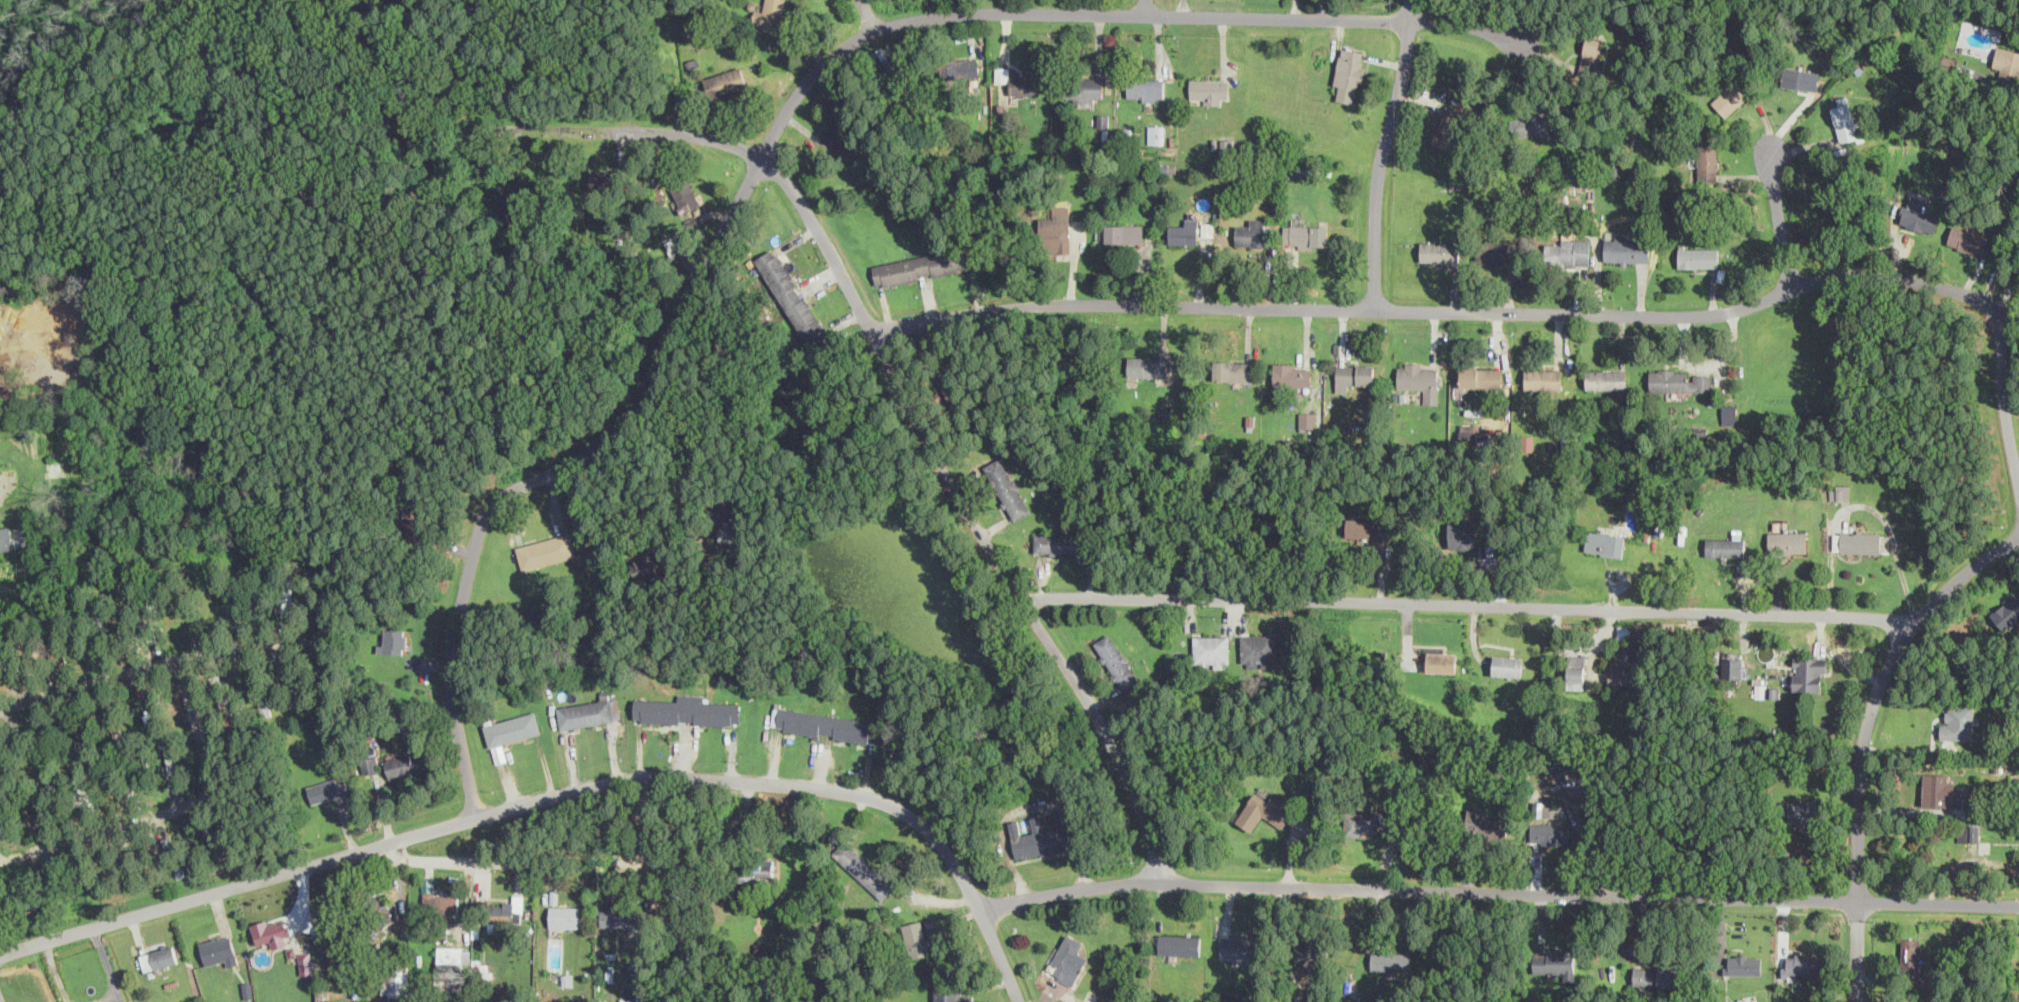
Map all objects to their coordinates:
road: (1145, 7)
road: (867, 15)
building: (769, 16)
building: (1593, 58)
building: (2007, 63)
building: (960, 68)
building: (1349, 74)
building: (1800, 78)
building: (725, 81)
building: (1018, 82)
building: (1088, 88)
building: (1146, 89)
building: (1209, 91)
building: (1730, 96)
building: (1844, 121)
building: (1530, 125)
building: (1448, 126)
building: (839, 132)
building: (1156, 133)
road: (766, 145)
road: (1381, 152)
building: (1707, 161)
building: (605, 182)
building: (686, 197)
road: (1777, 214)
building: (1919, 217)
building: (1056, 224)
building: (1122, 233)
building: (1183, 233)
building: (1251, 233)
building: (1306, 236)
building: (1967, 240)
building: (1627, 250)
building: (1439, 251)
building: (1496, 251)
building: (1568, 251)
building: (1698, 257)
building: (920, 266)
building: (791, 296)
road: (1442, 309)
building: (1148, 366)
building: (1232, 370)
building: (1353, 374)
road: (895, 375)
building: (1292, 375)
building: (1480, 376)
building: (1543, 379)
building: (1606, 379)
building: (1420, 380)
building: (1681, 380)
road: (2001, 397)
building: (1307, 420)
building: (1468, 430)
road: (628, 487)
building: (1007, 488)
building: (1840, 491)
building: (411, 521)
building: (1367, 527)
building: (1462, 534)
building: (5, 538)
building: (734, 538)
building: (1788, 541)
building: (1858, 541)
building: (1060, 542)
building: (1605, 542)
building: (1726, 545)
building: (546, 551)
building: (653, 562)
road: (1469, 605)
building: (2007, 614)
building: (1625, 632)
building: (393, 641)
building: (1258, 650)
building: (1211, 651)
building: (1442, 661)
road: (161, 662)
building: (1117, 662)
building: (1507, 665)
building: (1732, 666)
building: (1576, 667)
building: (1808, 672)
building: (1624, 674)
building: (1762, 690)
building: (1774, 692)
building: (150, 708)
building: (686, 710)
building: (586, 713)
building: (1958, 723)
building: (827, 725)
building: (512, 728)
road: (1865, 739)
building: (171, 763)
building: (370, 766)
building: (402, 766)
building: (328, 788)
building: (1938, 790)
road: (557, 794)
road: (173, 808)
building: (45, 809)
building: (1263, 811)
building: (1805, 813)
building: (1362, 823)
building: (1484, 825)
building: (3, 826)
building: (1969, 832)
building: (211, 834)
building: (1550, 834)
building: (1042, 836)
building: (175, 856)
road: (558, 863)
building: (756, 869)
building: (864, 870)
road: (1497, 891)
building: (441, 902)
building: (504, 913)
building: (565, 916)
building: (620, 917)
building: (271, 930)
building: (915, 939)
building: (1179, 944)
building: (1241, 947)
building: (219, 950)
building: (1910, 953)
building: (454, 954)
building: (1309, 954)
building: (158, 957)
building: (1069, 960)
building: (1391, 960)
building: (305, 962)
building: (1555, 962)
road: (109, 964)
building: (1745, 964)
building: (1801, 964)
road: (56, 971)
building: (1655, 976)
building: (396, 977)
building: (449, 977)
building: (950, 992)
building: (1913, 1001)

